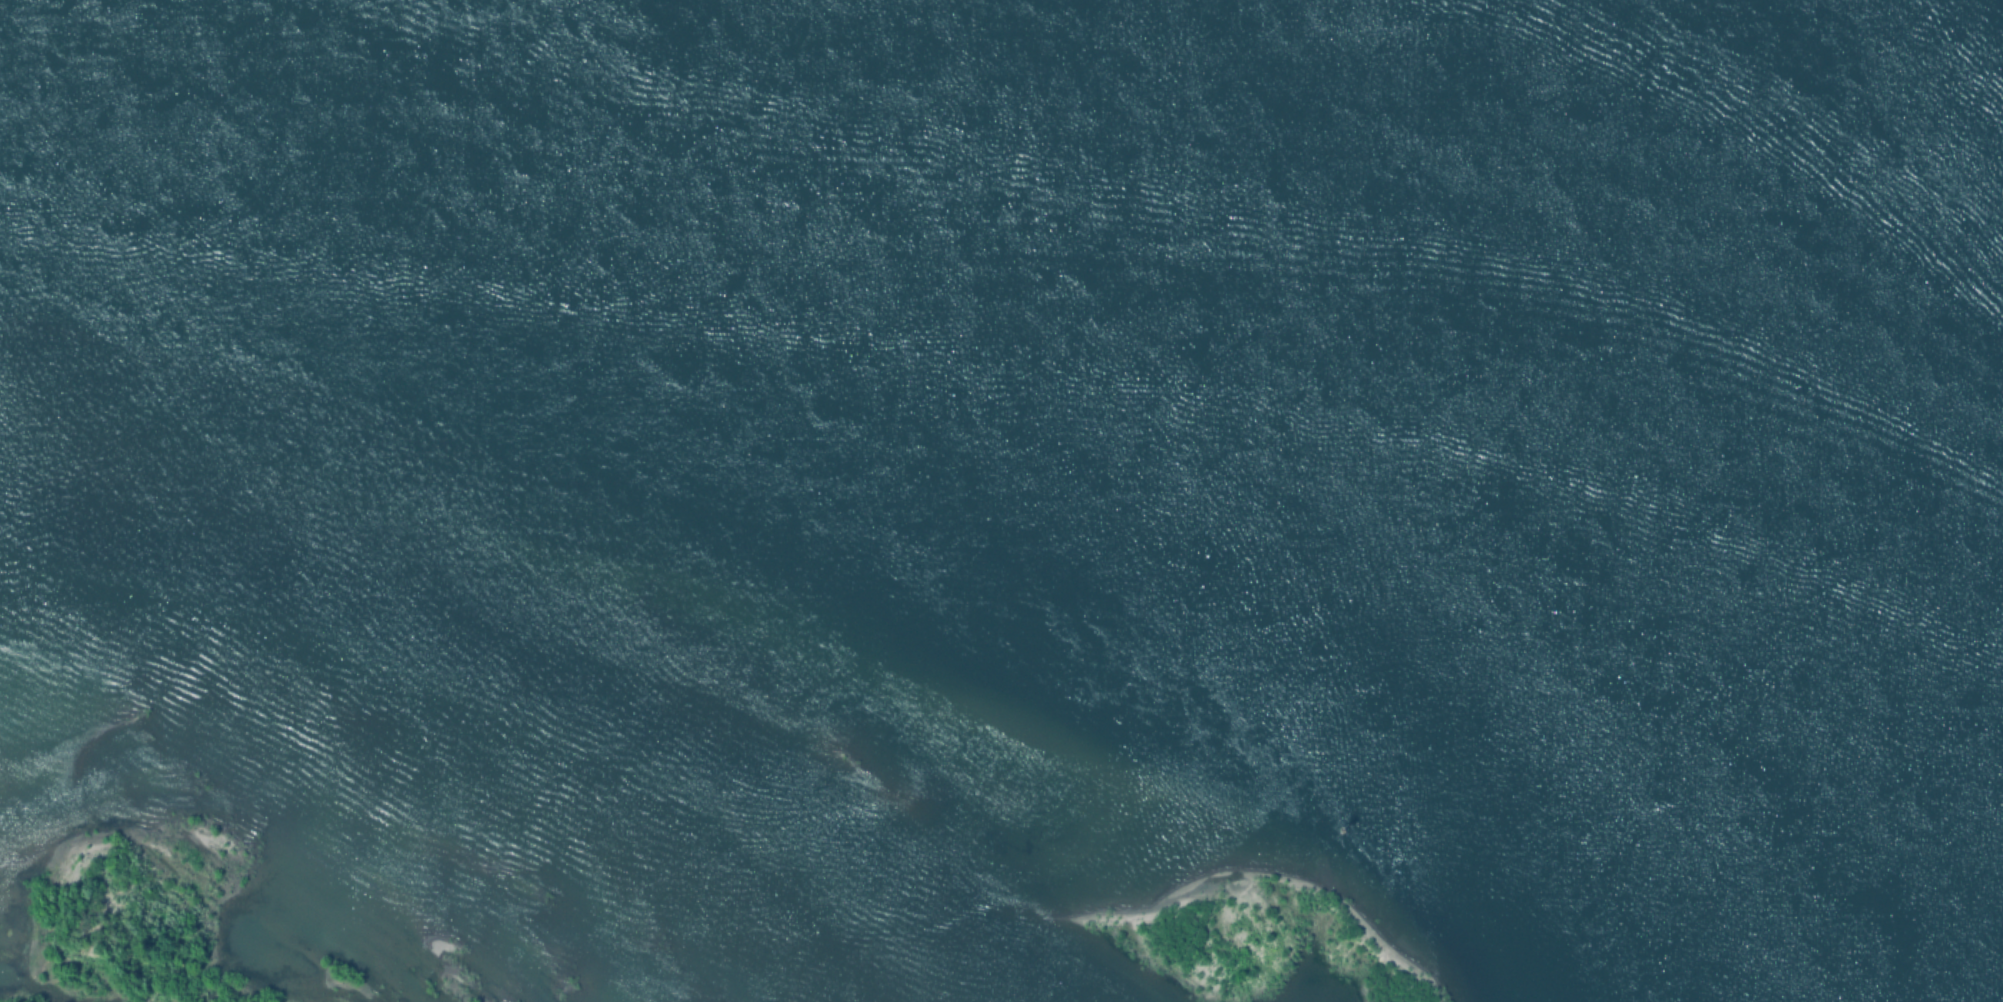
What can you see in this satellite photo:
river: (1029, 388)

